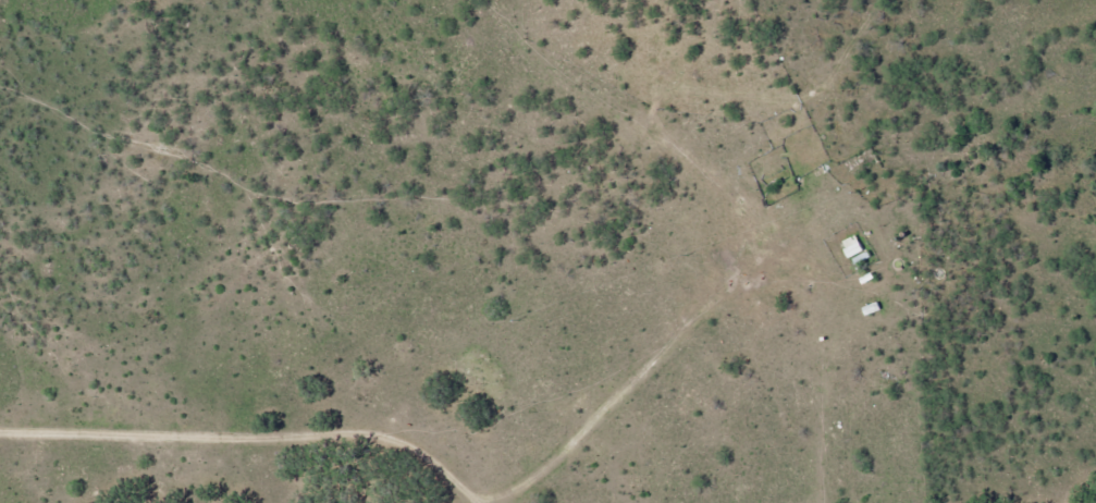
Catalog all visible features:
building: (850, 246)
building: (870, 309)
road: (633, 390)
road: (251, 442)

